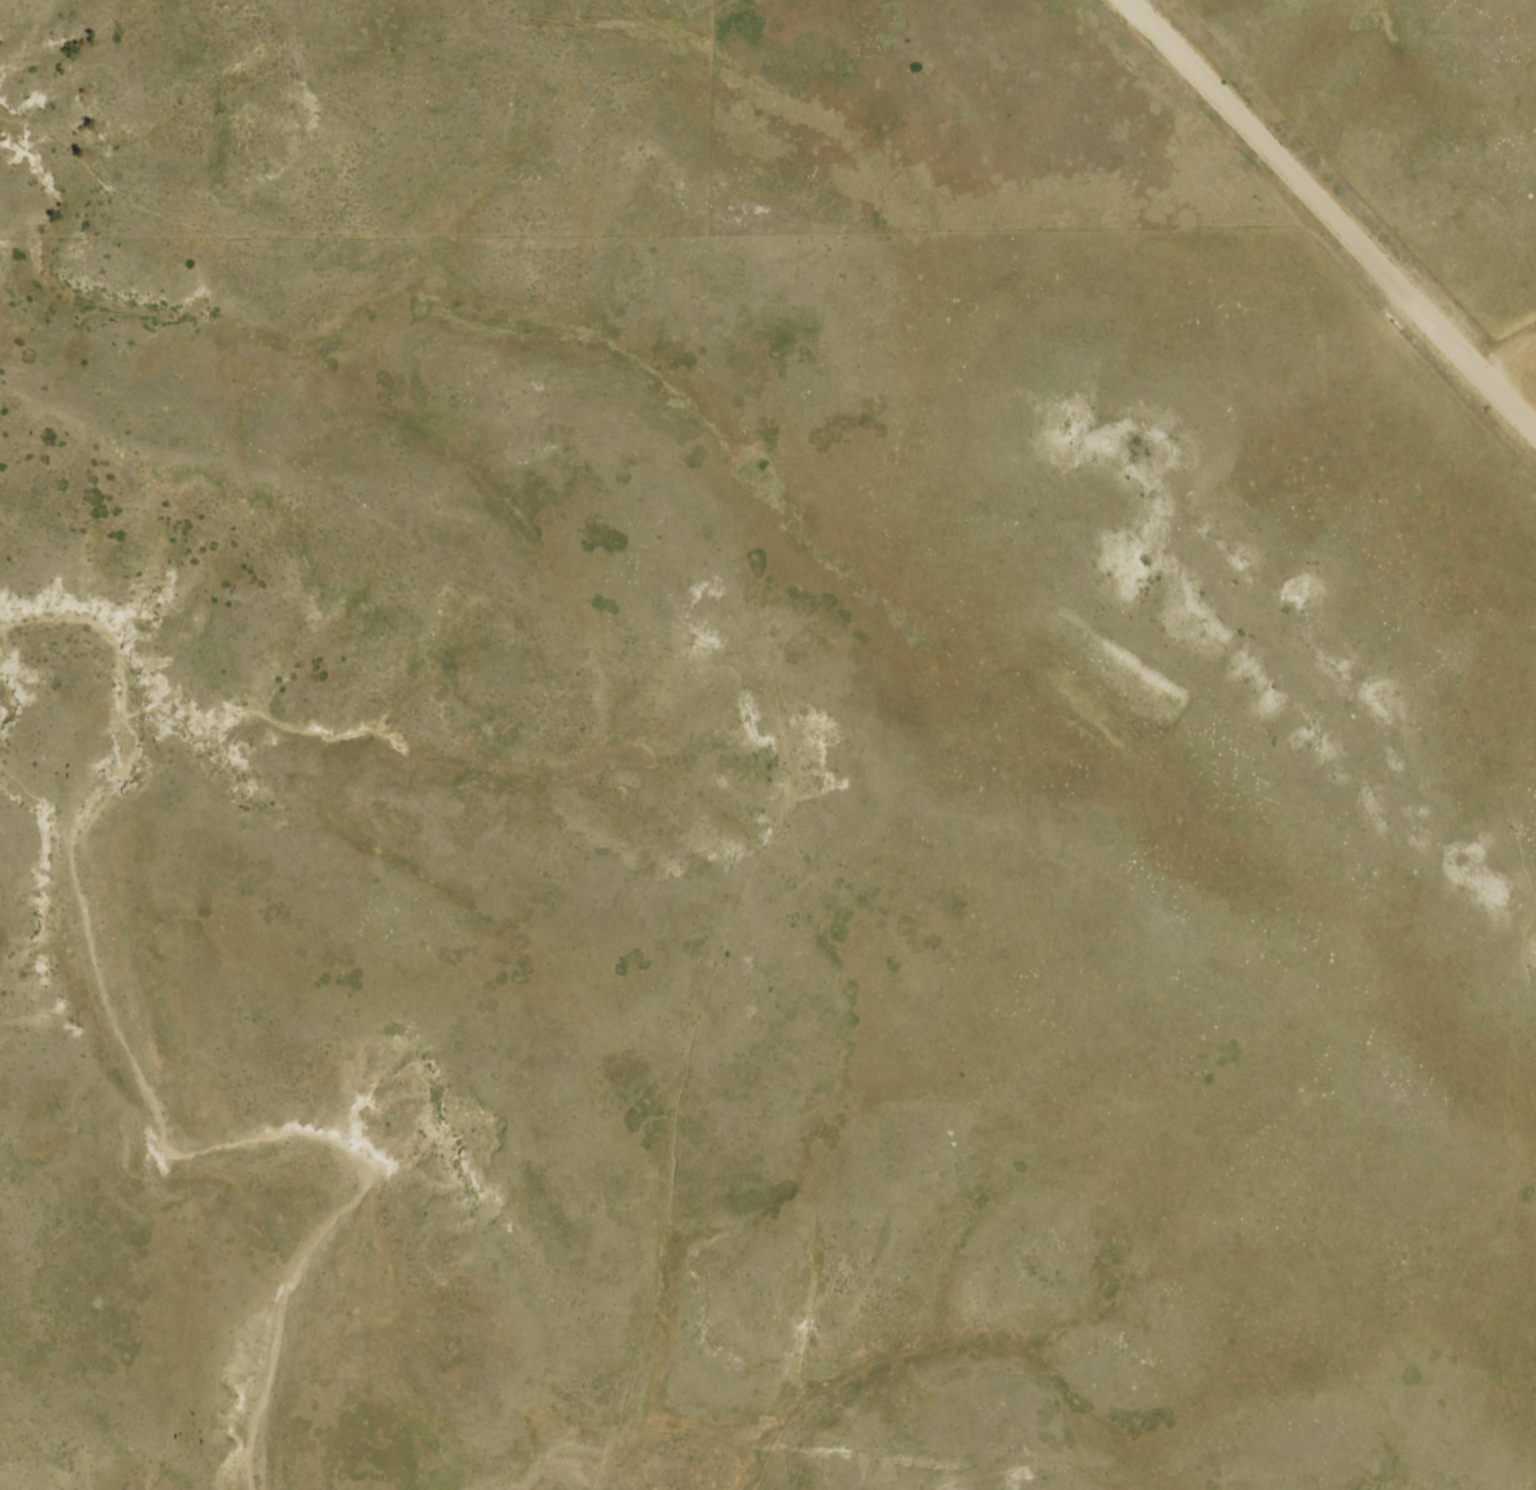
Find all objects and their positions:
road: (1332, 214)
crop: (1521, 348)

